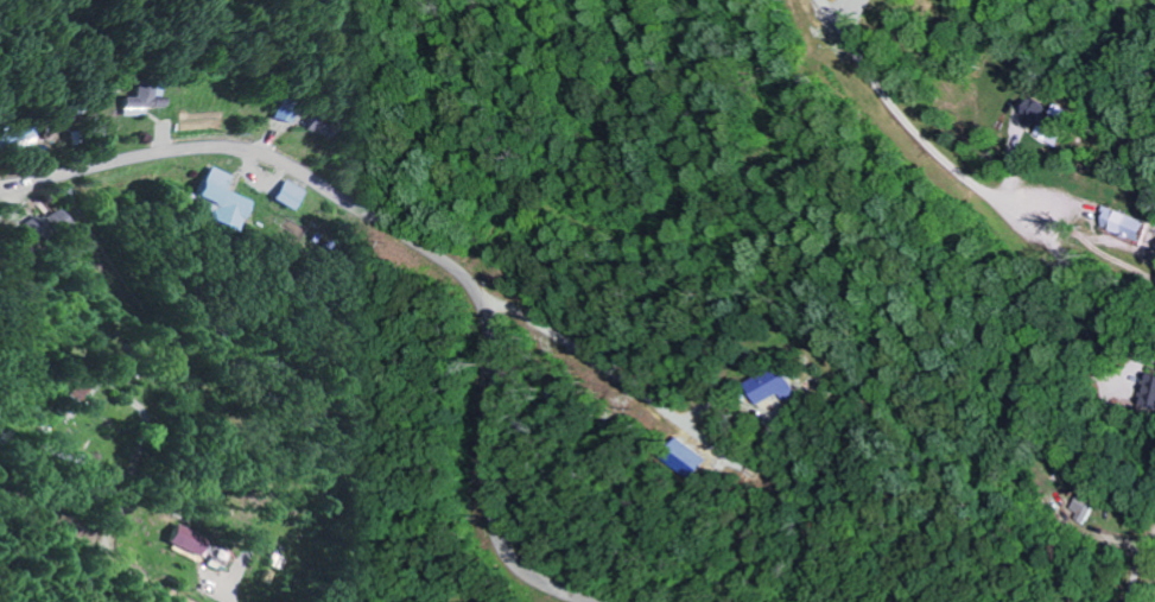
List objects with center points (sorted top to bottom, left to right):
building: (134, 99)
building: (277, 109)
building: (1051, 118)
building: (311, 125)
building: (13, 135)
building: (288, 195)
building: (221, 199)
building: (1127, 223)
building: (47, 226)
road: (408, 240)
building: (755, 385)
building: (1150, 389)
building: (1086, 503)
building: (186, 539)
road: (125, 566)
road: (1132, 591)

